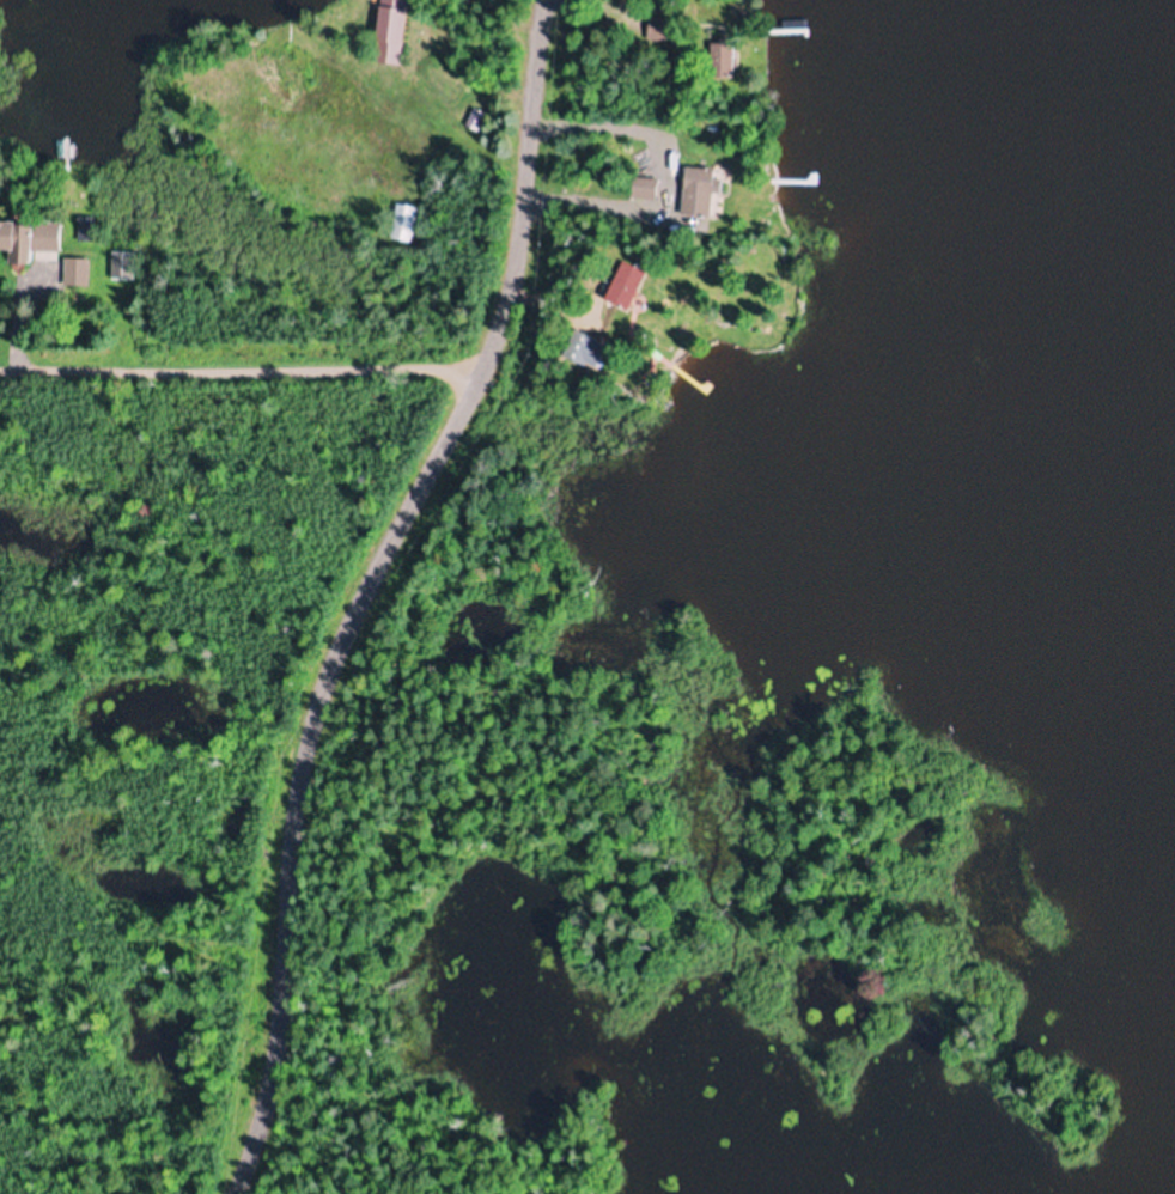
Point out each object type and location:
building: (390, 32)
building: (645, 189)
building: (700, 191)
building: (403, 223)
building: (29, 240)
building: (75, 272)
building: (625, 286)
building: (583, 348)
road: (242, 372)
road: (371, 589)

